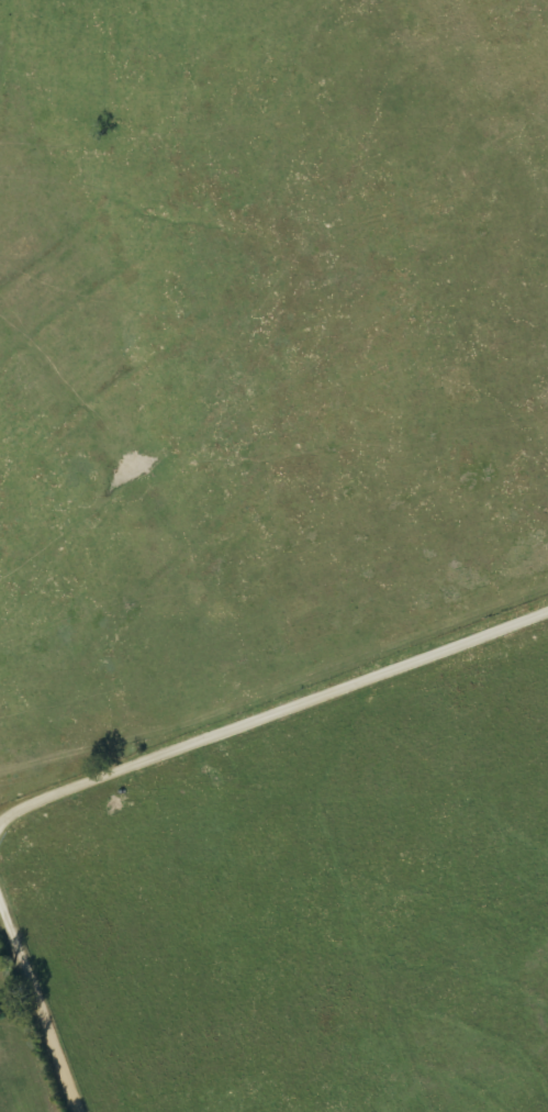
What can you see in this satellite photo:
road: (272, 711)
road: (37, 1004)

